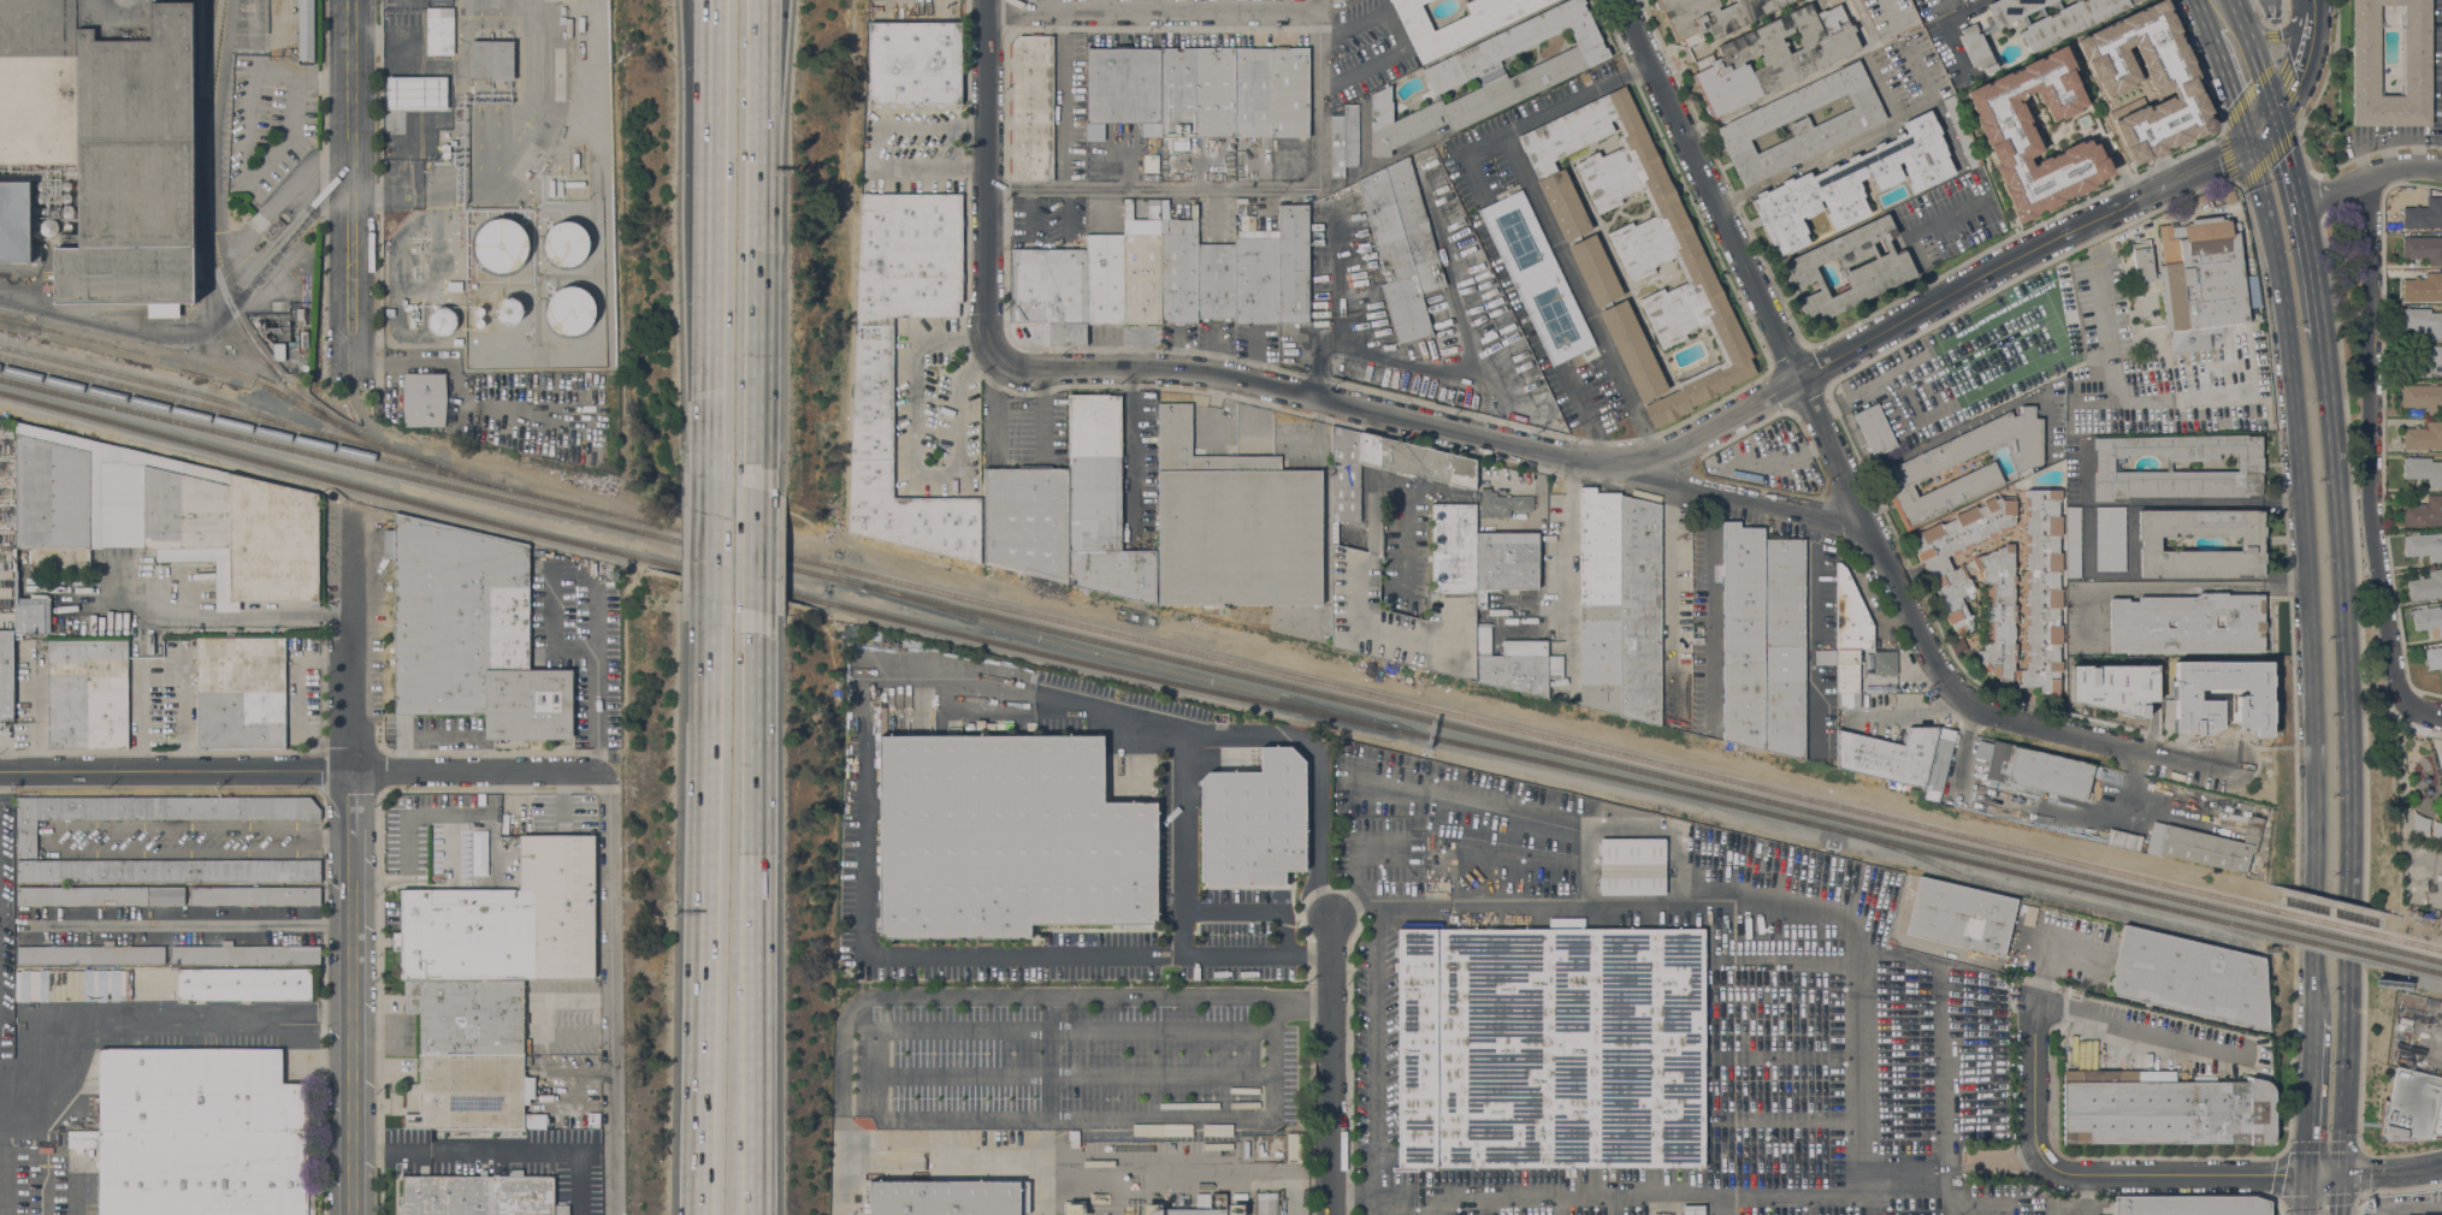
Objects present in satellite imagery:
building: (871, 0)
building: (1850, 0)
building: (1335, 1)
building: (1801, 1)
road: (1630, 4)
road: (2233, 8)
building: (562, 10)
road: (1158, 13)
road: (1851, 14)
building: (1711, 16)
building: (1890, 16)
building: (561, 20)
building: (2068, 20)
building: (1456, 23)
building: (568, 26)
building: (1993, 28)
road: (2240, 28)
building: (306, 30)
building: (439, 30)
road: (2281, 31)
road: (2270, 34)
road: (1399, 38)
building: (2365, 49)
road: (2275, 52)
road: (763, 54)
road: (775, 54)
building: (1773, 57)
building: (491, 60)
road: (2301, 60)
building: (913, 63)
road: (2278, 65)
railway: (211, 66)
building: (1489, 76)
road: (2225, 82)
building: (2175, 85)
building: (1122, 89)
road: (2263, 90)
building: (1271, 91)
building: (416, 93)
building: (1196, 93)
road: (1059, 102)
building: (1031, 107)
road: (1556, 107)
road: (713, 113)
building: (1801, 123)
road: (933, 124)
building: (1962, 131)
building: (2006, 131)
building: (108, 138)
building: (1344, 141)
road: (1856, 141)
building: (445, 150)
building: (575, 160)
road: (912, 166)
road: (1473, 176)
road: (2367, 177)
road: (987, 180)
building: (574, 183)
building: (1852, 183)
building: (40, 185)
building: (66, 185)
building: (551, 188)
road: (1248, 190)
road: (350, 191)
building: (40, 197)
building: (66, 197)
building: (2229, 197)
building: (67, 211)
building: (2424, 214)
building: (2391, 215)
road: (1030, 217)
road: (1068, 217)
building: (16, 223)
building: (67, 226)
building: (273, 229)
building: (51, 230)
road: (1909, 233)
road: (2302, 236)
building: (1642, 237)
building: (566, 243)
storage tank: (566, 243)
building: (502, 244)
storage tank: (502, 244)
railway: (209, 245)
building: (1401, 247)
building: (2423, 248)
building: (1294, 263)
building: (1141, 265)
building: (2063, 268)
building: (1881, 269)
building: (1178, 271)
building: (1595, 271)
building: (1257, 277)
building: (1537, 278)
building: (1104, 279)
building: (1216, 280)
road: (759, 286)
building: (2423, 286)
building: (1049, 292)
road: (1955, 292)
road: (1581, 296)
building: (409, 308)
building: (570, 309)
storage tank: (570, 309)
building: (479, 310)
storage tank: (479, 310)
building: (509, 310)
storage tank: (509, 310)
building: (2206, 310)
building: (389, 312)
building: (301, 315)
railway: (20, 320)
building: (442, 320)
storage tank: (442, 320)
building: (2423, 321)
building: (479, 322)
storage tank: (479, 322)
road: (2109, 331)
road: (2286, 334)
building: (304, 338)
building: (457, 342)
building: (278, 350)
building: (1632, 350)
road: (711, 352)
road: (1787, 358)
building: (2420, 360)
railway: (253, 380)
railway: (161, 384)
building: (2423, 398)
building: (425, 399)
building: (1937, 401)
building: (873, 407)
railway: (217, 408)
building: (2092, 408)
building: (1905, 415)
road: (2326, 415)
road: (1433, 427)
building: (1875, 429)
building: (2424, 435)
road: (1317, 439)
road: (1139, 446)
road: (1006, 450)
road: (912, 457)
building: (1418, 461)
road: (2371, 462)
railway: (414, 464)
building: (2249, 466)
building: (1914, 468)
building: (2423, 470)
building: (1344, 476)
railway: (431, 481)
road: (2166, 502)
building: (1100, 504)
building: (1502, 504)
building: (2424, 512)
building: (162, 517)
building: (1027, 521)
building: (1234, 524)
building: (1326, 528)
road: (1565, 537)
building: (2110, 539)
building: (2073, 543)
building: (2251, 544)
building: (2424, 545)
road: (756, 547)
road: (709, 551)
railway: (761, 553)
railway: (693, 569)
building: (2425, 586)
road: (2176, 587)
building: (1953, 588)
road: (1671, 589)
building: (2041, 591)
building: (1600, 601)
building: (1443, 605)
building: (1640, 610)
road: (1711, 610)
building: (30, 614)
road: (597, 614)
road: (212, 616)
building: (1851, 616)
building: (2428, 618)
building: (2187, 623)
building: (469, 633)
road: (1808, 634)
building: (1742, 636)
road: (351, 639)
building: (1782, 645)
building: (1958, 646)
road: (597, 647)
building: (1825, 657)
building: (2434, 657)
railway: (1127, 658)
building: (1885, 662)
road: (2292, 663)
building: (1555, 666)
building: (2213, 669)
building: (1847, 672)
building: (6, 675)
road: (2363, 682)
building: (2111, 687)
building: (240, 693)
road: (1029, 693)
building: (87, 694)
building: (1849, 700)
road: (35, 707)
road: (183, 711)
building: (2174, 713)
road: (141, 716)
road: (2313, 729)
road: (2345, 730)
railway: (1547, 735)
road: (2100, 743)
railway: (1565, 751)
building: (1888, 755)
building: (1939, 765)
building: (2036, 770)
road: (306, 772)
park: (2416, 787)
road: (351, 805)
building: (152, 811)
building: (1254, 823)
road: (60, 825)
railway: (1831, 826)
building: (2435, 829)
building: (1007, 838)
building: (2122, 840)
road: (1183, 844)
building: (2205, 844)
building: (480, 855)
building: (1632, 867)
building: (168, 871)
road: (1751, 879)
building: (100, 895)
building: (254, 895)
railway: (2042, 896)
road: (1353, 909)
road: (1257, 913)
building: (1961, 918)
road: (704, 919)
building: (508, 920)
road: (187, 923)
railway: (2331, 923)
road: (753, 924)
railway: (2335, 935)
railway: (2420, 943)
railway: (2336, 947)
road: (2073, 948)
building: (90, 954)
building: (246, 954)
railway: (2422, 955)
road: (2045, 956)
road: (1098, 958)
railway: (2423, 967)
building: (88, 973)
building: (161, 979)
building: (2190, 979)
building: (243, 984)
road: (2314, 989)
road: (2348, 990)
road: (615, 994)
road: (1037, 996)
road: (165, 1014)
building: (468, 1017)
road: (353, 1025)
road: (1059, 1026)
road: (2134, 1026)
building: (1550, 1049)
road: (1048, 1057)
road: (1331, 1066)
road: (880, 1067)
road: (1078, 1071)
road: (1373, 1072)
building: (474, 1092)
road: (2310, 1098)
road: (2342, 1100)
building: (2411, 1108)
building: (2164, 1109)
road: (1136, 1119)
building: (199, 1134)
building: (1074, 1138)
road: (498, 1148)
road: (2284, 1152)
road: (1051, 1166)
road: (2100, 1173)
road: (2382, 1173)
traffic signals: (2322, 1174)
road: (5, 1183)
road: (48, 1183)
road: (1917, 1186)
road: (1637, 1193)
building: (479, 1195)
road: (2322, 1195)
road: (76, 1196)
road: (1401, 1196)
building: (948, 1198)
building: (1202, 1199)
building: (1265, 1203)
road: (1373, 1205)
building: (2192, 1205)
road: (2410, 1205)
building: (1071, 1209)
building: (1151, 1209)
building: (1236, 1209)
building: (1692, 1210)
building: (1195, 1211)

